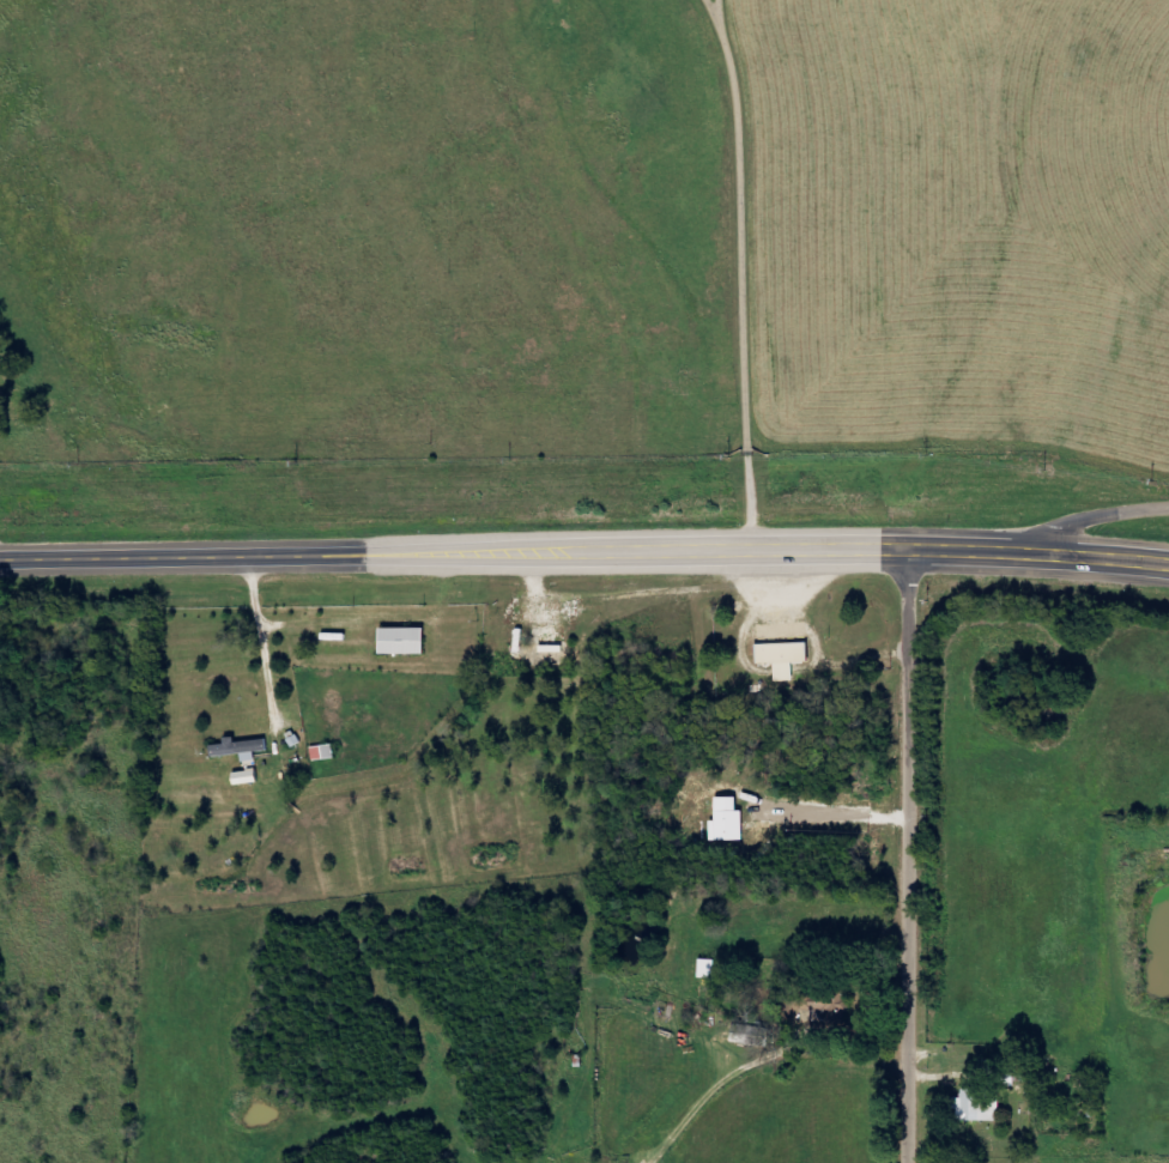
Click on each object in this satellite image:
road: (1076, 521)
road: (584, 551)
building: (408, 642)
building: (782, 658)
building: (246, 749)
building: (326, 752)
building: (249, 777)
building: (726, 820)
road: (919, 855)
building: (709, 968)
building: (751, 1032)
building: (998, 1073)
building: (979, 1104)

